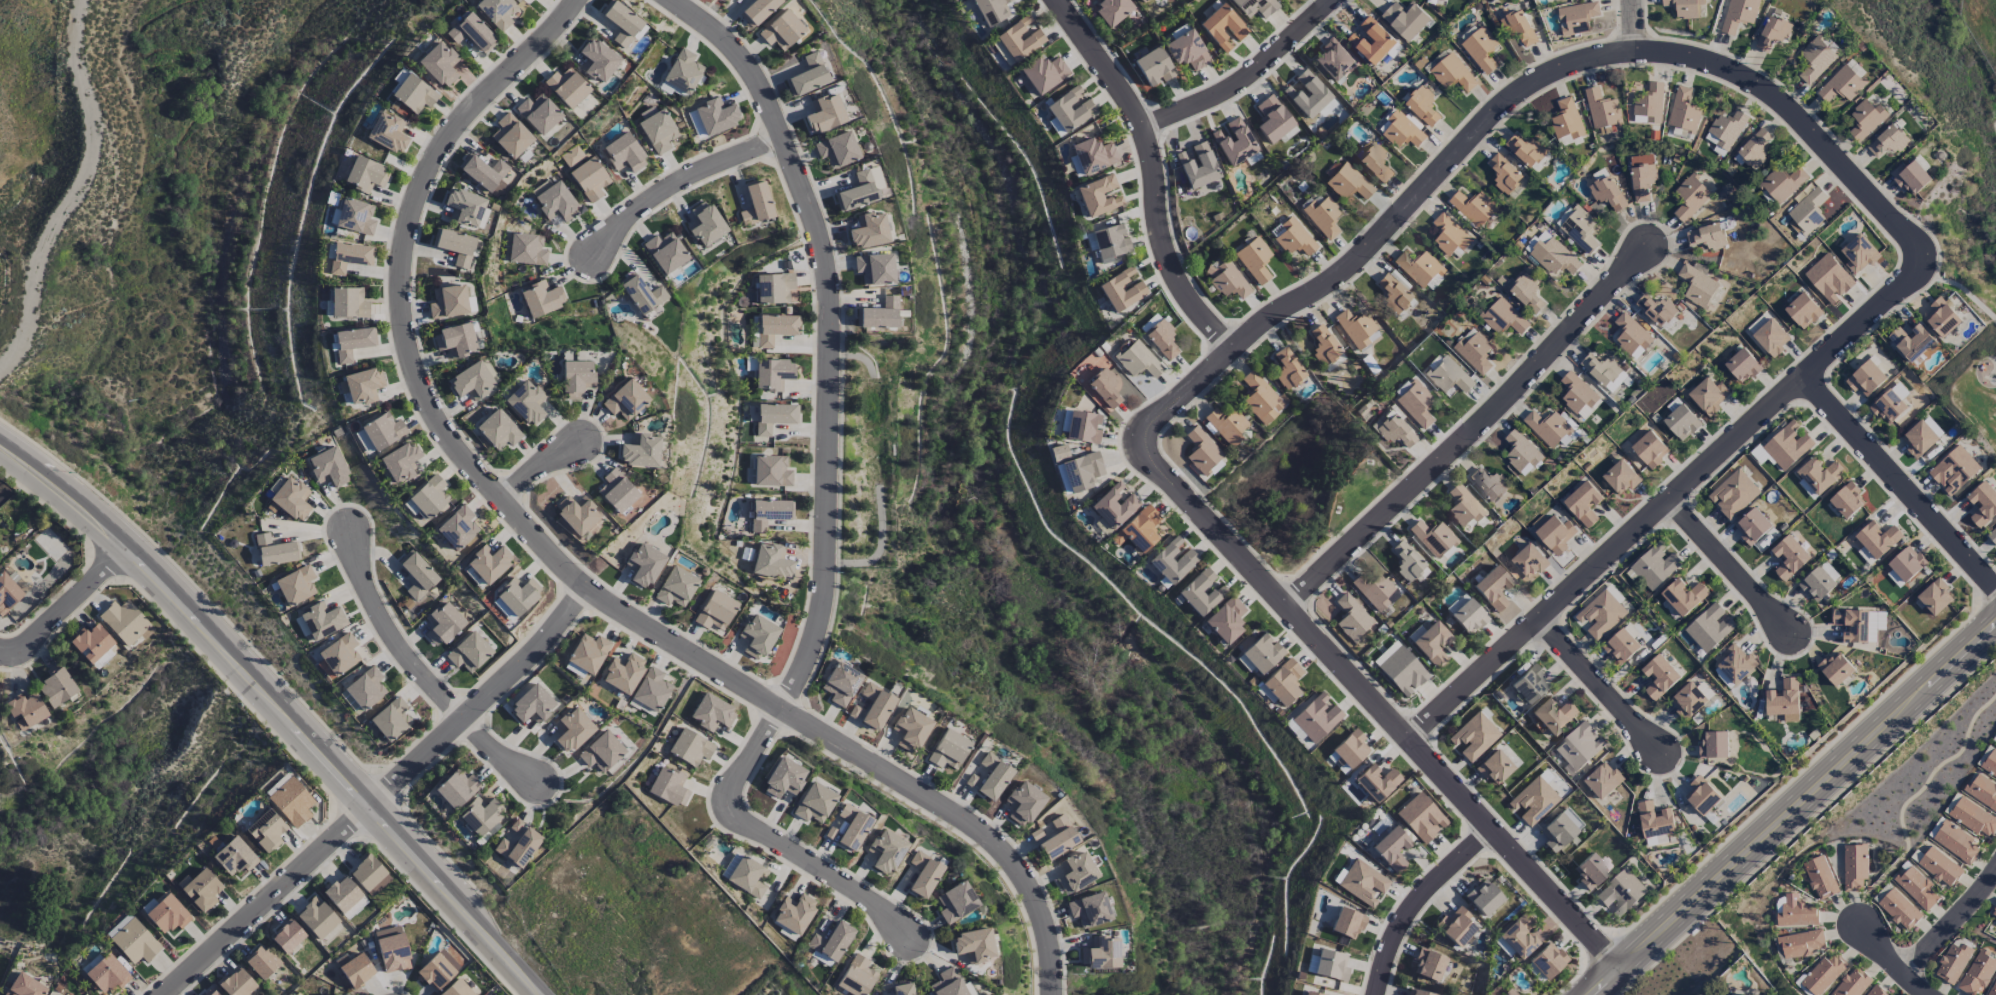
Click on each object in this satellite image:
building: (1443, 0)
building: (1142, 1)
building: (1255, 7)
building: (1684, 8)
building: (992, 10)
building: (757, 11)
building: (1112, 11)
building: (497, 12)
building: (1739, 14)
building: (1577, 18)
building: (1406, 20)
building: (622, 23)
road: (1633, 24)
building: (1518, 27)
building: (1223, 28)
building: (781, 30)
building: (471, 33)
building: (1773, 33)
building: (1019, 39)
building: (1372, 41)
building: (1186, 50)
building: (1481, 50)
building: (597, 60)
building: (1333, 60)
building: (1815, 60)
park: (1941, 60)
building: (439, 64)
building: (1153, 66)
building: (682, 71)
building: (1043, 73)
building: (1452, 73)
building: (807, 76)
road: (1251, 79)
building: (1844, 83)
building: (567, 87)
building: (414, 93)
building: (1306, 93)
building: (1649, 105)
building: (1423, 106)
building: (1070, 108)
building: (1602, 109)
road: (1499, 110)
building: (1684, 111)
building: (538, 113)
building: (825, 113)
building: (716, 115)
building: (1272, 119)
building: (1865, 119)
building: (1566, 120)
building: (695, 123)
building: (656, 129)
building: (1727, 129)
building: (387, 132)
building: (1401, 132)
building: (510, 135)
building: (1888, 141)
building: (1234, 142)
building: (837, 149)
building: (1526, 150)
building: (1753, 150)
building: (624, 153)
building: (572, 155)
building: (1093, 155)
building: (1375, 162)
building: (1197, 165)
road: (1151, 170)
building: (485, 173)
building: (365, 174)
building: (1504, 174)
building: (1642, 176)
building: (876, 178)
building: (1911, 178)
building: (589, 179)
building: (1348, 182)
building: (1782, 184)
road: (682, 185)
road: (77, 189)
building: (857, 192)
building: (1607, 193)
building: (1099, 195)
building: (1690, 198)
building: (554, 200)
building: (756, 204)
building: (464, 206)
building: (1473, 208)
building: (1806, 213)
building: (355, 216)
building: (1322, 216)
building: (704, 224)
building: (868, 230)
building: (1579, 230)
building: (1449, 235)
building: (1292, 237)
building: (1707, 237)
building: (1110, 241)
building: (454, 246)
building: (527, 249)
building: (664, 252)
building: (1858, 254)
building: (349, 256)
building: (1553, 256)
building: (1254, 259)
building: (875, 268)
building: (1418, 268)
building: (1227, 279)
building: (1829, 279)
park: (1968, 286)
building: (773, 287)
building: (1698, 287)
road: (1963, 288)
building: (1121, 290)
building: (640, 293)
building: (1392, 293)
building: (1525, 293)
building: (541, 298)
building: (448, 301)
building: (348, 303)
building: (1656, 310)
building: (1803, 311)
building: (879, 314)
building: (1504, 318)
building: (1941, 318)
building: (776, 328)
building: (1356, 328)
road: (833, 334)
building: (1631, 335)
building: (1771, 337)
building: (1162, 338)
building: (455, 340)
building: (352, 342)
building: (1911, 342)
building: (1323, 344)
building: (1474, 351)
building: (1137, 359)
building: (1742, 366)
building: (1287, 368)
building: (1603, 372)
building: (772, 374)
building: (1447, 375)
building: (576, 378)
building: (1866, 379)
building: (471, 381)
building: (361, 385)
building: (1105, 388)
building: (1708, 395)
building: (1578, 396)
building: (1260, 397)
building: (625, 400)
building: (1414, 401)
building: (526, 402)
building: (1888, 407)
building: (773, 417)
building: (1681, 423)
building: (1227, 425)
building: (1083, 427)
building: (1550, 428)
building: (498, 429)
building: (382, 430)
building: (1395, 431)
road: (1471, 432)
building: (1919, 439)
building: (1788, 445)
building: (640, 450)
building: (1649, 450)
building: (1059, 452)
building: (1203, 452)
building: (1521, 453)
building: (400, 462)
building: (328, 467)
road: (538, 469)
building: (1953, 470)
building: (771, 471)
building: (1082, 471)
building: (1820, 475)
building: (1621, 478)
park: (1308, 479)
building: (1489, 484)
road: (1902, 486)
building: (1807, 489)
building: (616, 491)
road: (1684, 492)
building: (1733, 494)
building: (429, 496)
building: (291, 498)
building: (1847, 501)
building: (1583, 504)
building: (1983, 504)
building: (1463, 505)
building: (1114, 506)
building: (576, 513)
building: (769, 513)
building: (456, 527)
building: (1752, 527)
building: (1138, 529)
building: (1553, 533)
building: (1992, 534)
building: (1434, 537)
building: (1878, 539)
building: (275, 550)
building: (1866, 556)
building: (1789, 558)
building: (1406, 560)
building: (771, 561)
building: (1172, 561)
building: (1529, 561)
building: (488, 563)
building: (1907, 563)
building: (644, 564)
road: (564, 565)
building: (1655, 567)
road: (1731, 568)
building: (417, 575)
building: (1817, 584)
building: (296, 585)
building: (676, 587)
building: (1492, 587)
building: (1375, 591)
building: (1201, 592)
building: (7, 593)
building: (517, 595)
building: (1684, 597)
building: (1935, 597)
building: (715, 610)
road: (67, 612)
building: (1601, 614)
building: (1467, 615)
building: (1352, 619)
building: (322, 620)
building: (1226, 620)
building: (123, 621)
building: (443, 623)
building: (1852, 625)
building: (1709, 628)
building: (757, 636)
building: (91, 642)
building: (1432, 643)
building: (1621, 647)
building: (469, 652)
building: (588, 652)
building: (1262, 652)
building: (339, 654)
building: (102, 659)
building: (1735, 664)
building: (574, 669)
building: (1835, 669)
building: (1402, 671)
road: (423, 672)
building: (623, 672)
building: (1659, 677)
building: (1283, 681)
building: (841, 683)
building: (1528, 684)
building: (56, 686)
building: (365, 688)
road: (1600, 688)
building: (651, 689)
building: (1688, 700)
building: (1784, 700)
road: (485, 701)
building: (531, 704)
building: (875, 706)
road: (1377, 706)
building: (25, 710)
road: (279, 710)
building: (712, 713)
building: (1553, 715)
building: (1316, 717)
building: (388, 722)
building: (911, 729)
building: (572, 730)
building: (1473, 736)
building: (1995, 743)
building: (1713, 745)
building: (1579, 746)
building: (690, 747)
building: (1351, 748)
building: (948, 749)
building: (601, 751)
building: (1990, 763)
building: (1494, 767)
building: (993, 777)
building: (783, 778)
building: (1603, 781)
building: (1376, 782)
building: (669, 786)
building: (456, 788)
building: (1982, 791)
building: (1701, 795)
building: (1532, 801)
building: (292, 802)
building: (814, 803)
building: (1024, 803)
road: (1796, 812)
building: (481, 817)
building: (1420, 817)
building: (1973, 818)
building: (1655, 824)
building: (851, 827)
building: (1560, 829)
building: (266, 830)
building: (830, 833)
building: (1058, 838)
road: (774, 840)
building: (1956, 843)
building: (518, 847)
building: (1391, 848)
building: (885, 851)
building: (234, 856)
building: (730, 864)
building: (1854, 866)
building: (1940, 867)
building: (1590, 871)
building: (1076, 873)
building: (369, 875)
building: (923, 875)
building: (748, 877)
building: (1820, 878)
building: (1363, 882)
building: (1917, 888)
building: (201, 890)
building: (1621, 893)
building: (344, 897)
building: (1483, 897)
road: (267, 899)
building: (956, 902)
road: (1421, 904)
building: (1089, 909)
building: (1900, 910)
building: (1797, 912)
building: (794, 913)
building: (167, 914)
building: (1993, 914)
building: (316, 917)
building: (1344, 921)
building: (118, 925)
road: (1951, 925)
building: (1455, 926)
building: (287, 936)
building: (1516, 938)
building: (135, 942)
building: (829, 943)
building: (1800, 944)
building: (974, 945)
building: (392, 949)
building: (1100, 953)
building: (1547, 960)
building: (261, 962)
road: (1890, 962)
building: (1953, 963)
building: (1331, 965)
building: (1429, 965)
building: (356, 970)
building: (437, 970)
building: (1977, 973)
building: (106, 974)
building: (1824, 974)
building: (856, 976)
building: (236, 983)
building: (948, 983)
building: (1853, 983)
building: (24, 986)
building: (456, 988)
building: (1993, 988)
building: (902, 990)
building: (1876, 991)
building: (1416, 992)
building: (211, 993)
building: (1312, 993)
building: (1728, 994)

